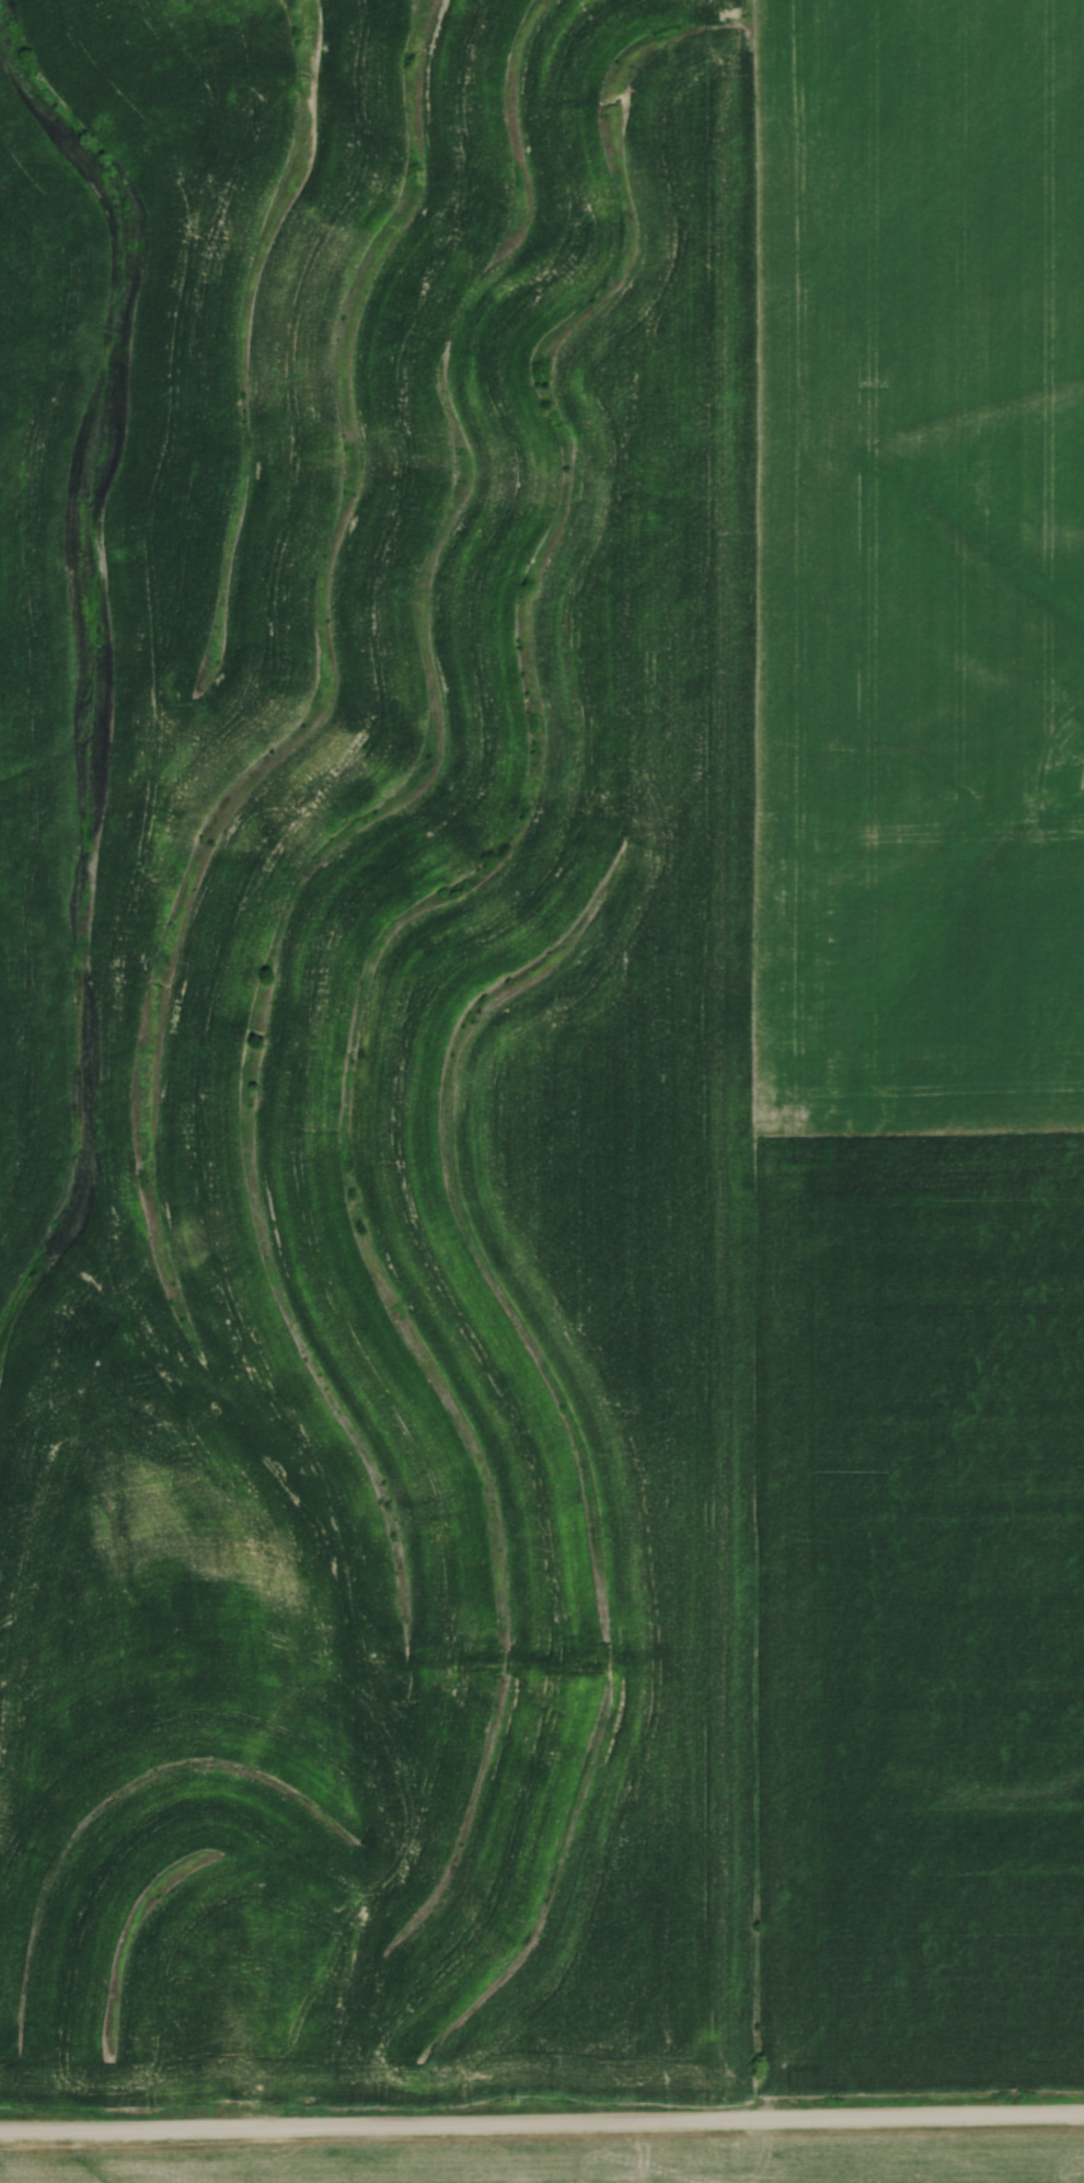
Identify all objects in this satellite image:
road: (542, 2126)

